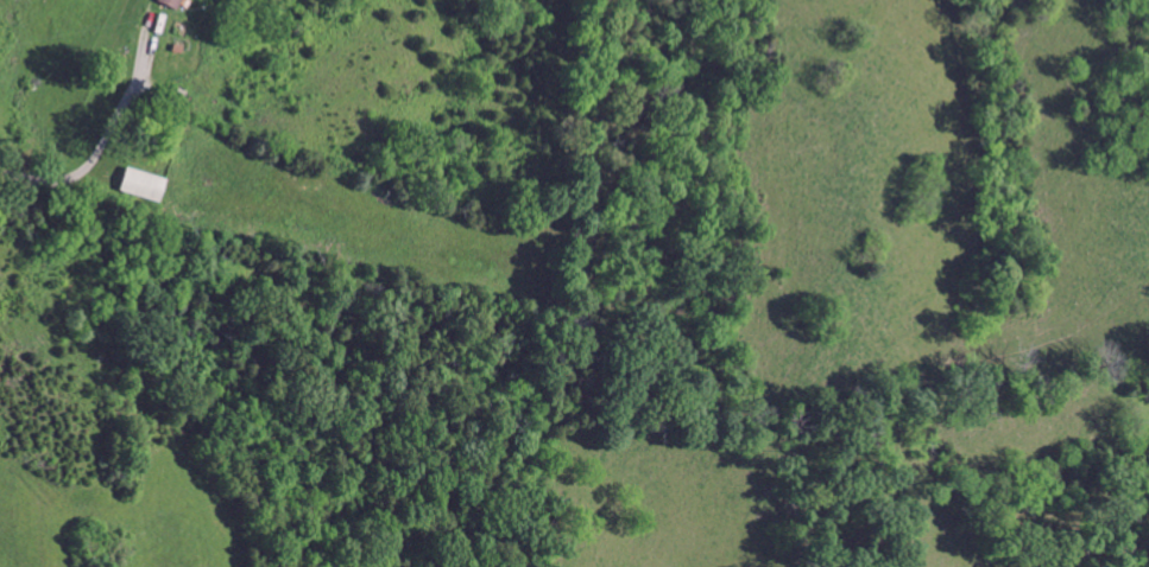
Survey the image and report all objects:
road: (93, 157)

